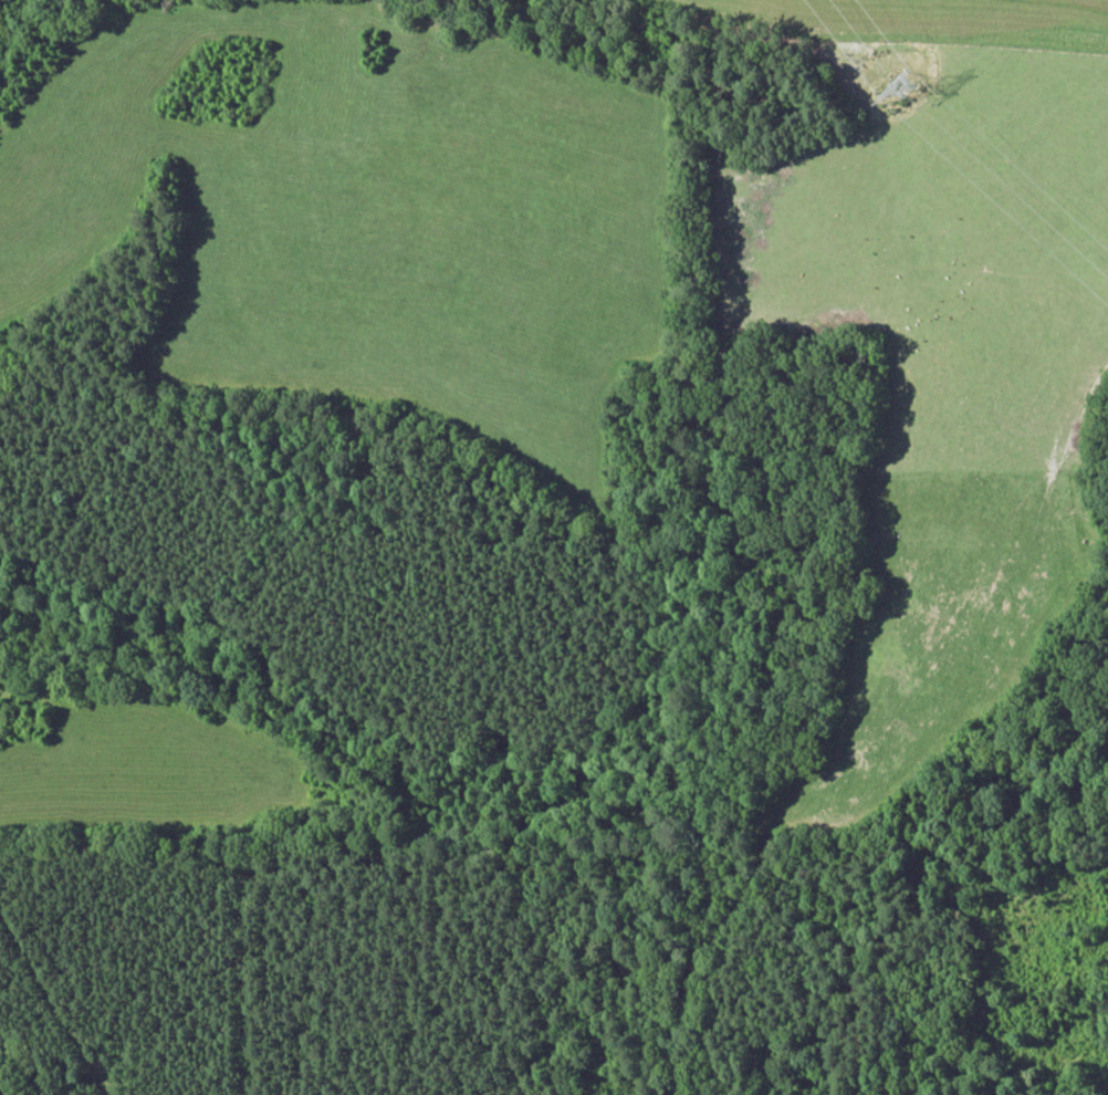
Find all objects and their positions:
power tower: (907, 87)
road: (14, 1058)

